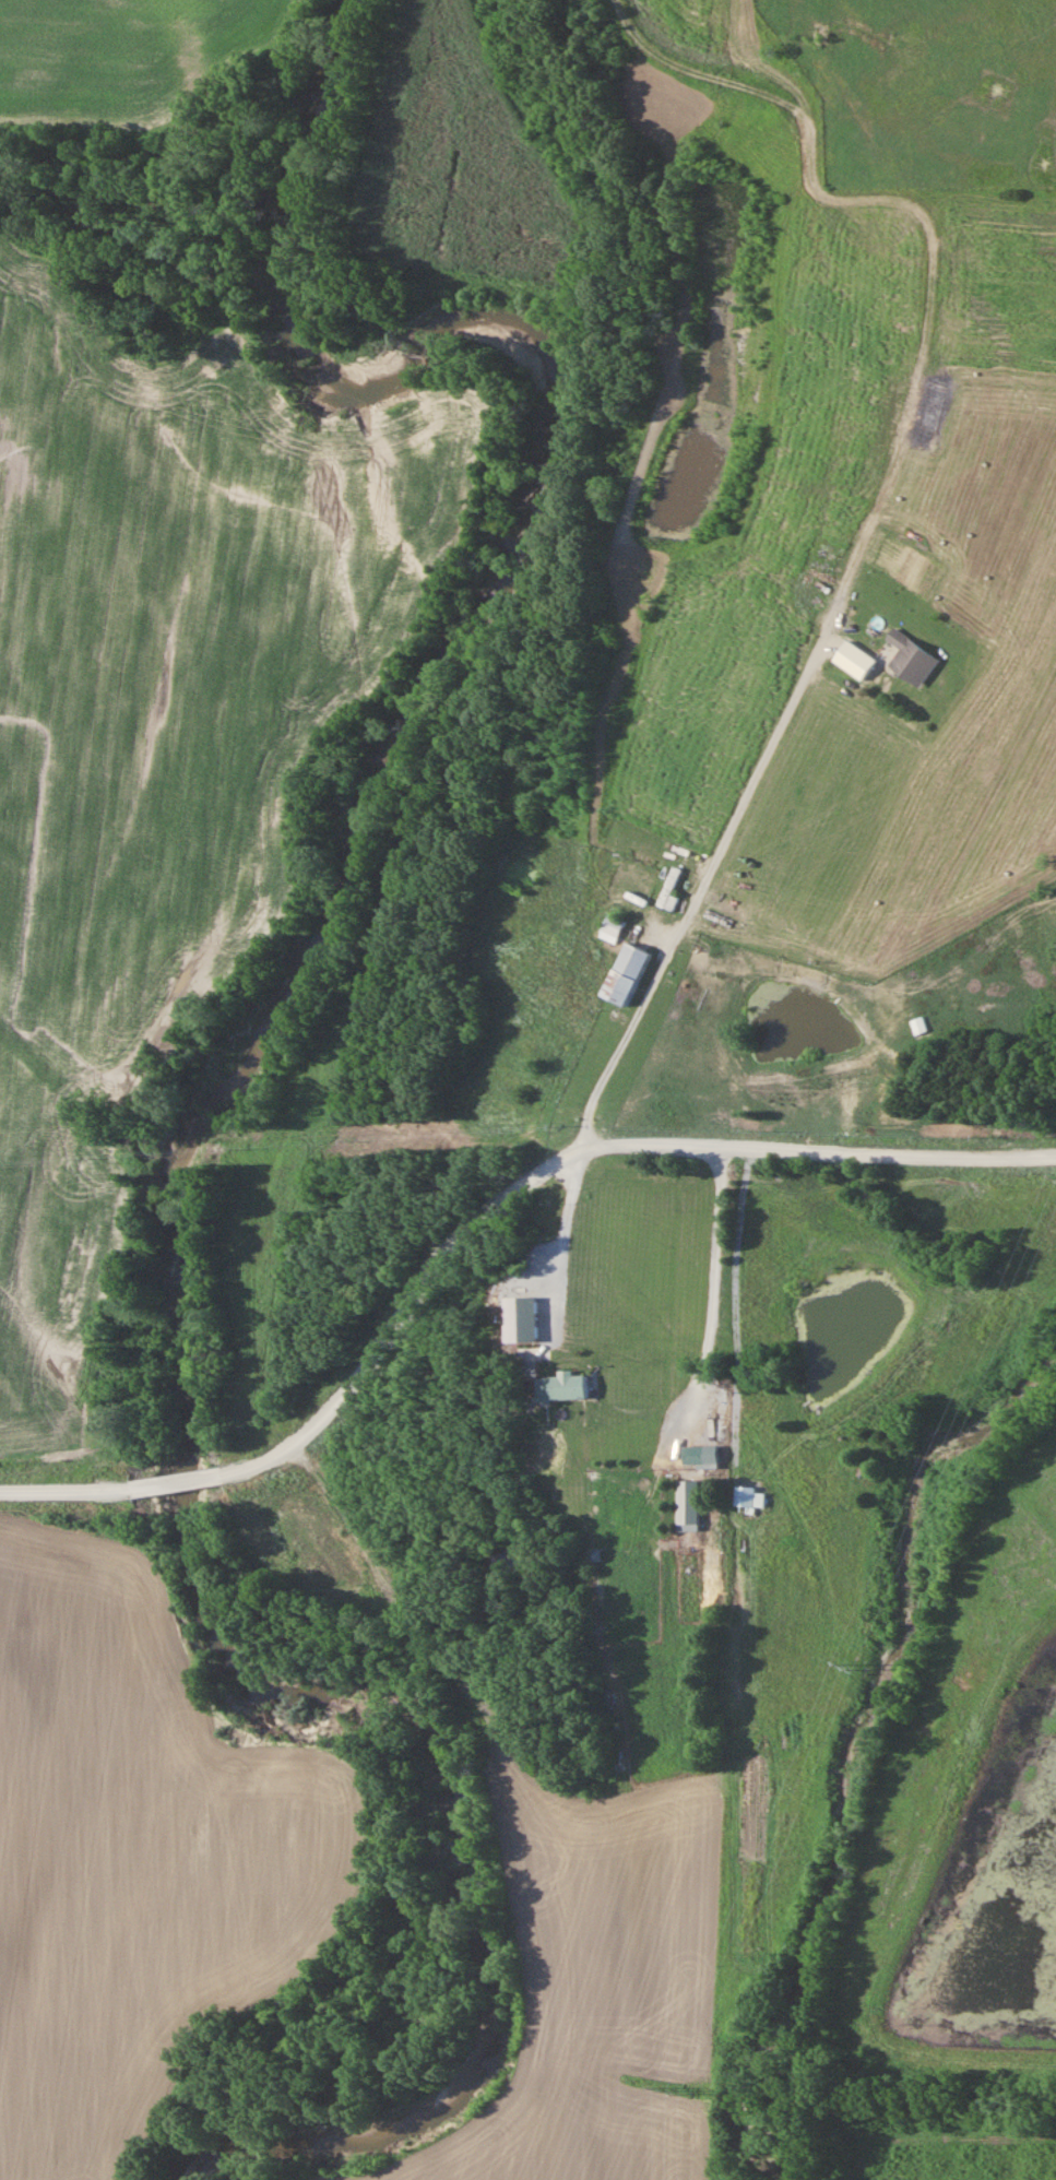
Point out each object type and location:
road: (952, 506)
building: (904, 660)
road: (707, 921)
building: (603, 926)
building: (615, 975)
building: (916, 1027)
road: (471, 1217)
road: (715, 1282)
building: (524, 1330)
building: (559, 1388)
building: (690, 1458)
building: (748, 1498)
power tower: (851, 1679)
power tower: (668, 2092)

